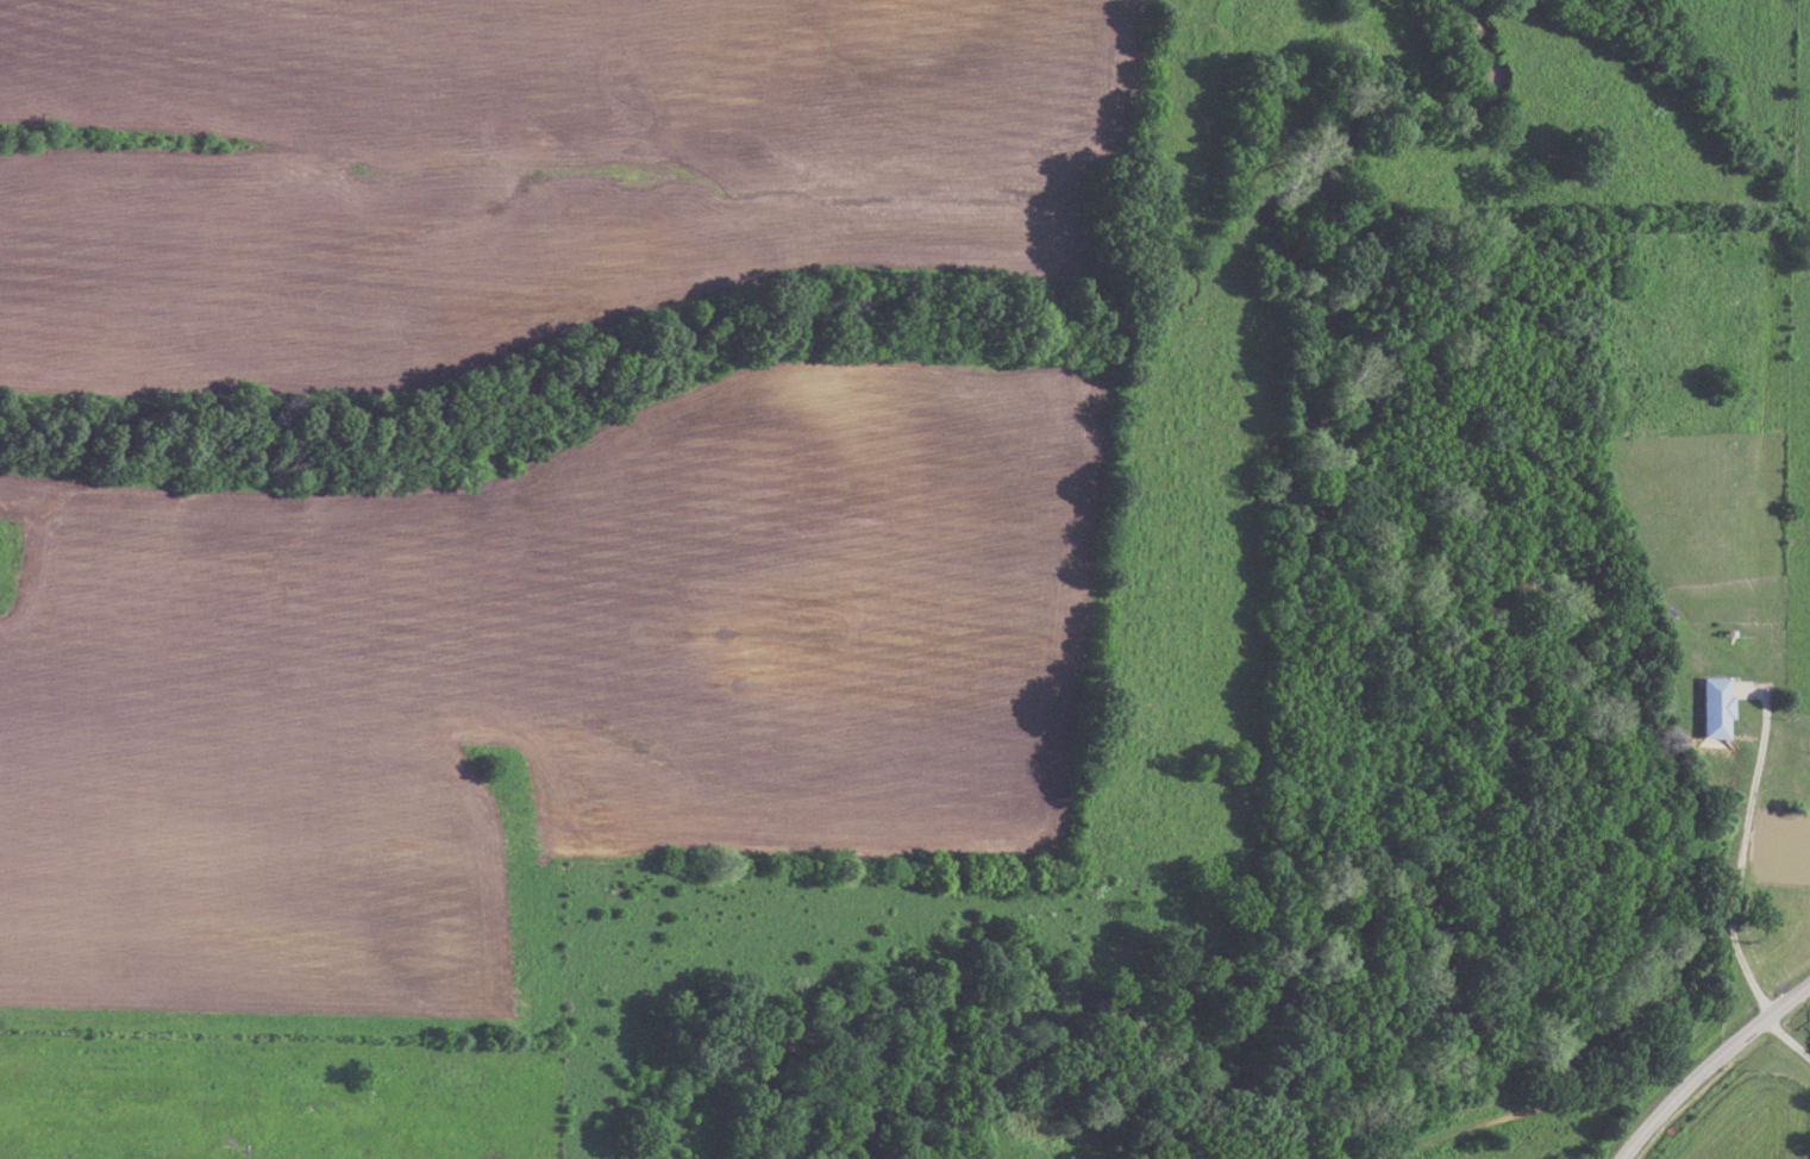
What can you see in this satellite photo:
building: (1706, 708)
road: (1733, 859)
road: (1787, 1038)
road: (1706, 1065)

